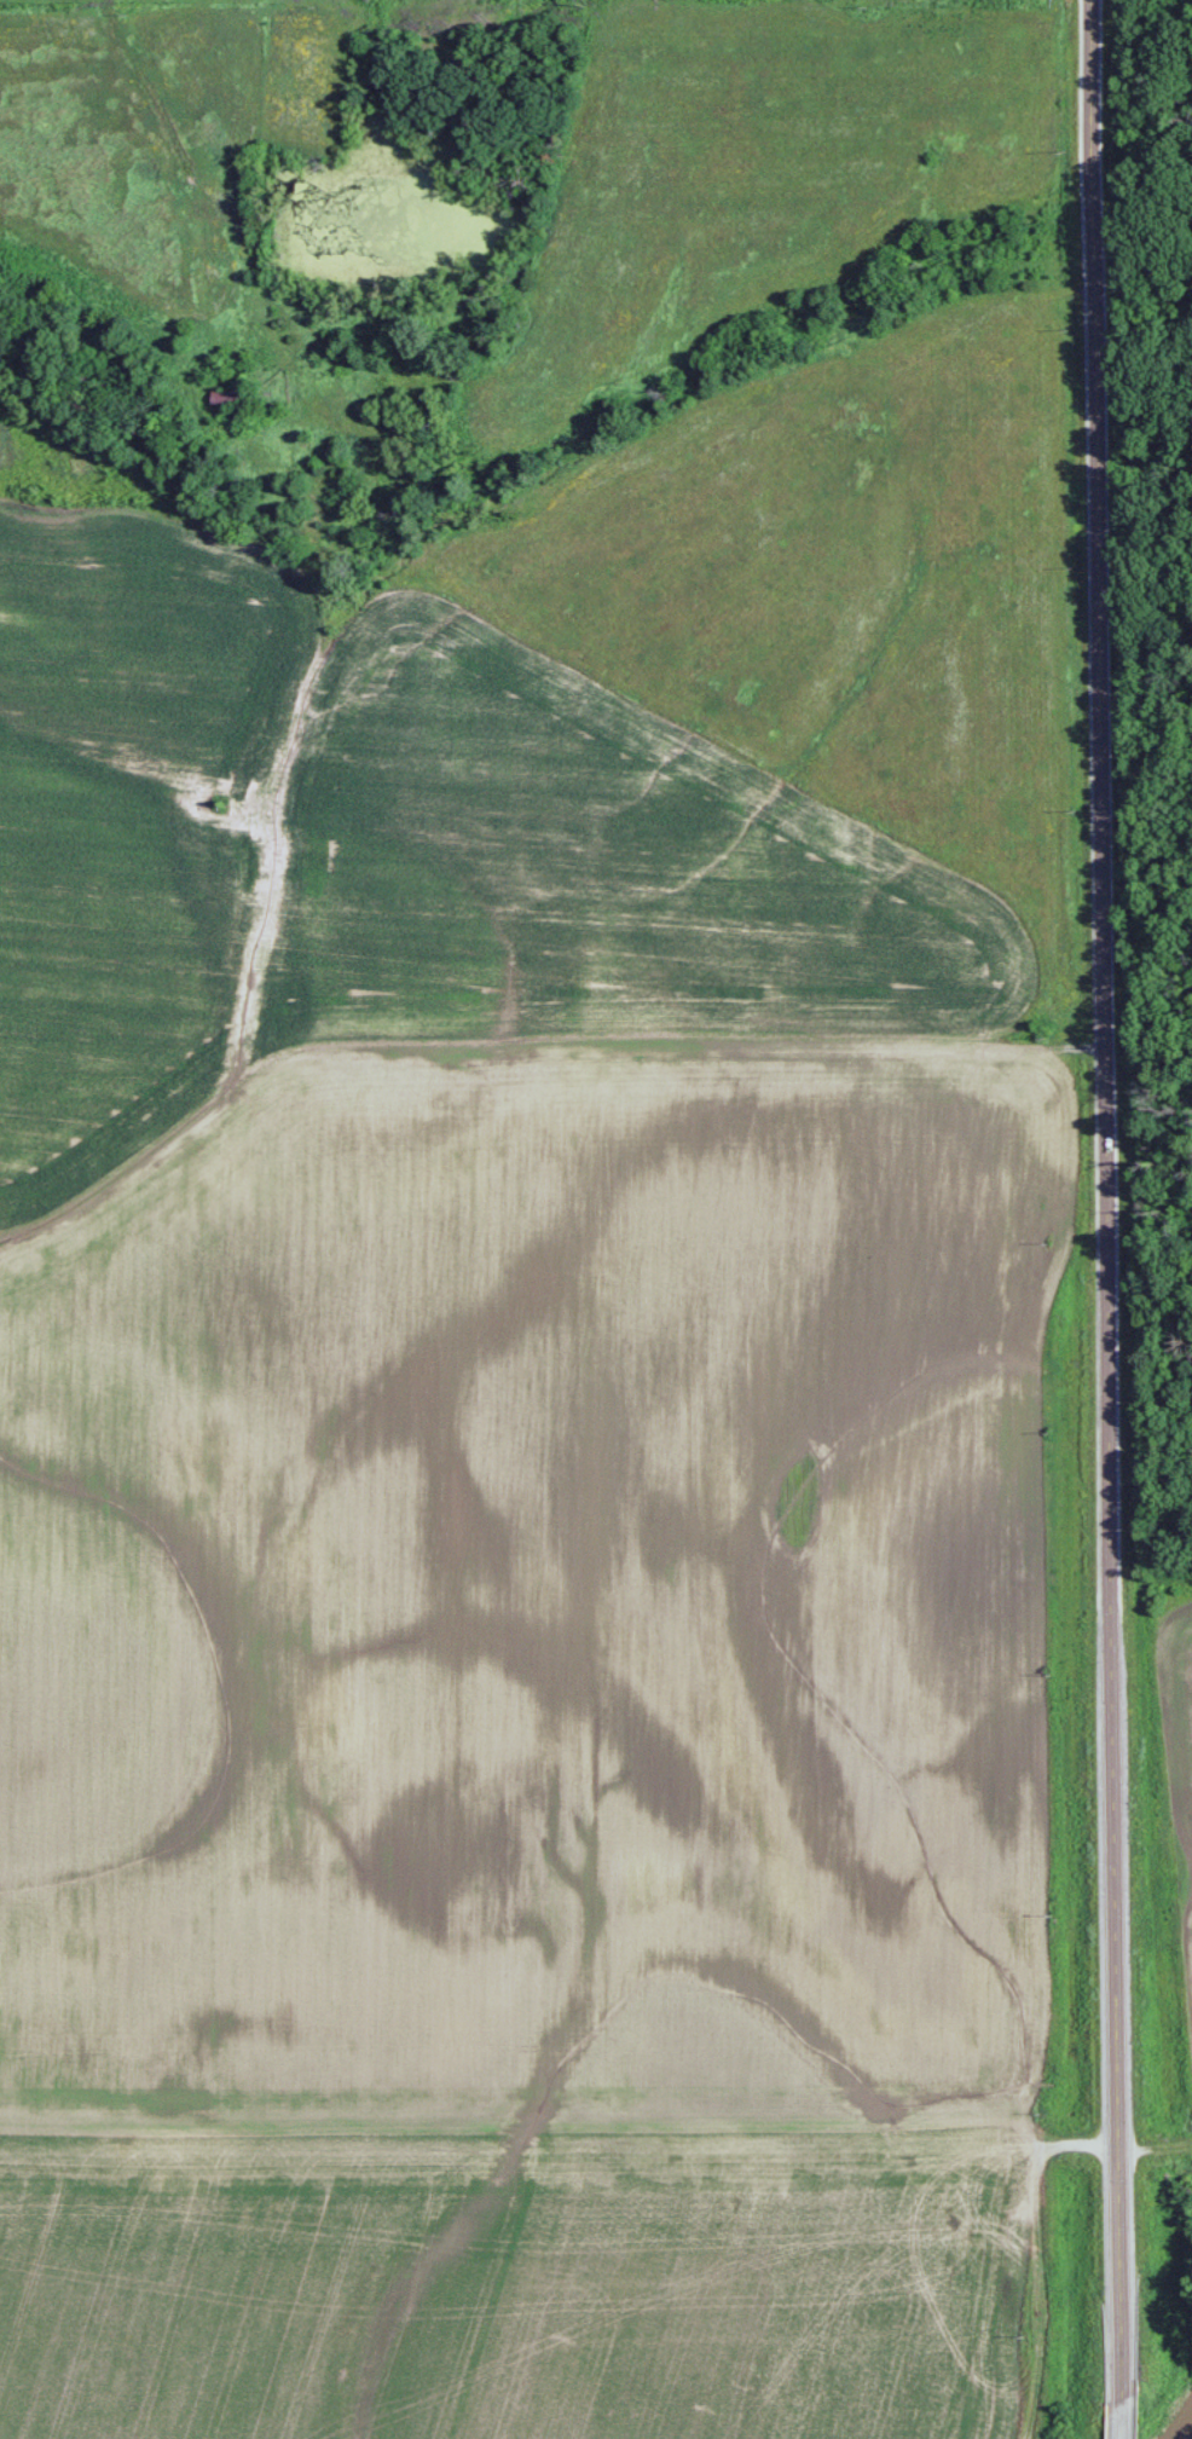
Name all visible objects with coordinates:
road: (1105, 1219)
crop: (1177, 1758)
crop: (510, 2281)

